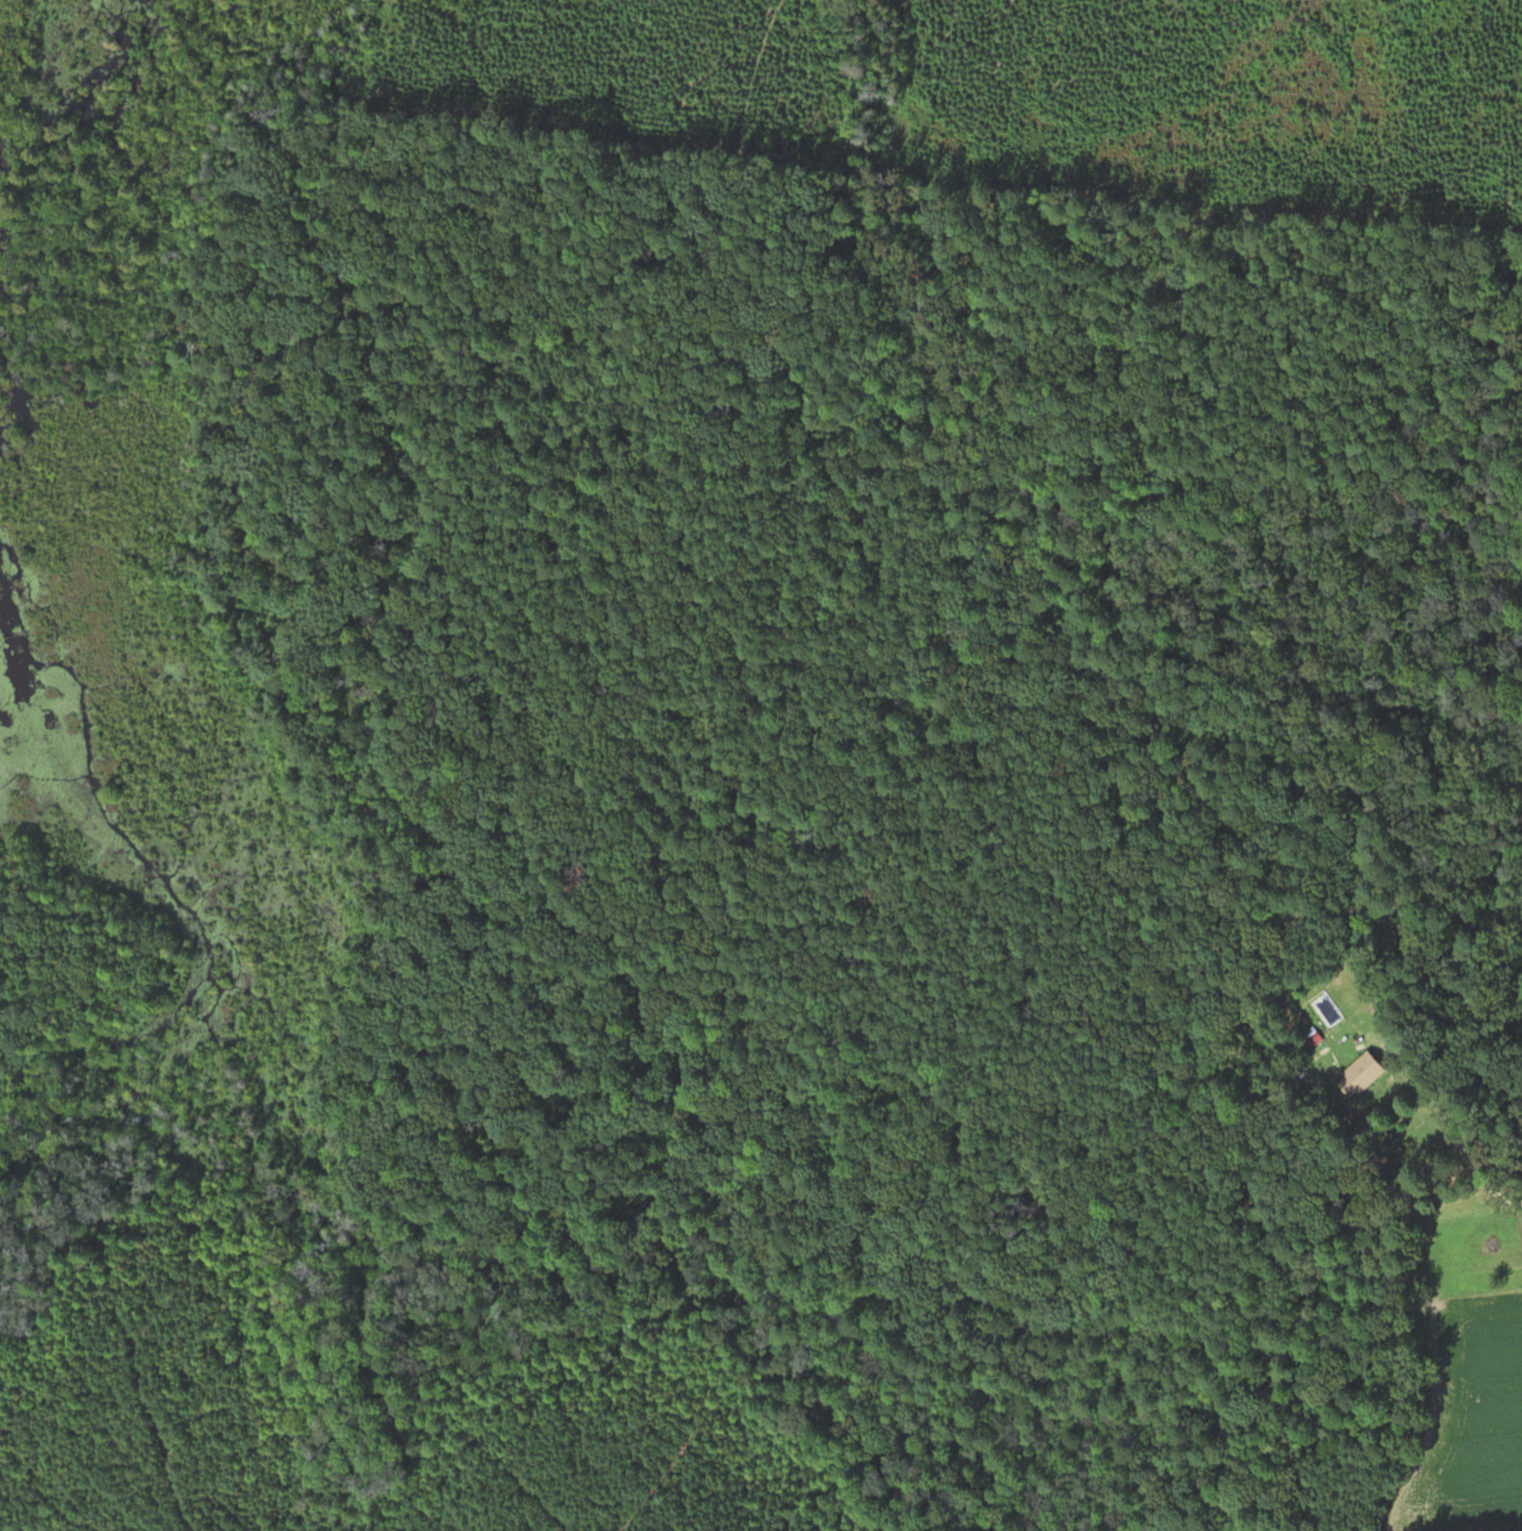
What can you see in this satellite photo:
building: (1358, 1074)

